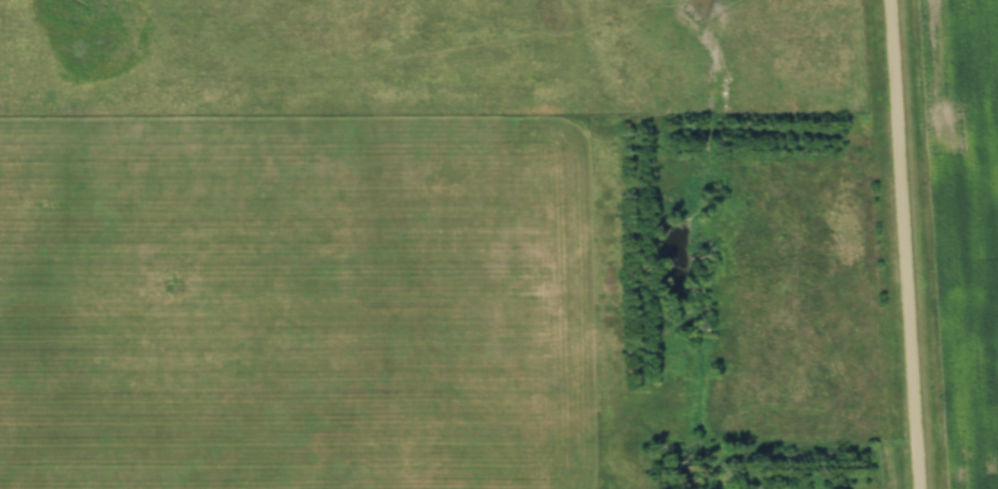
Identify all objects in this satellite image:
road: (907, 244)

